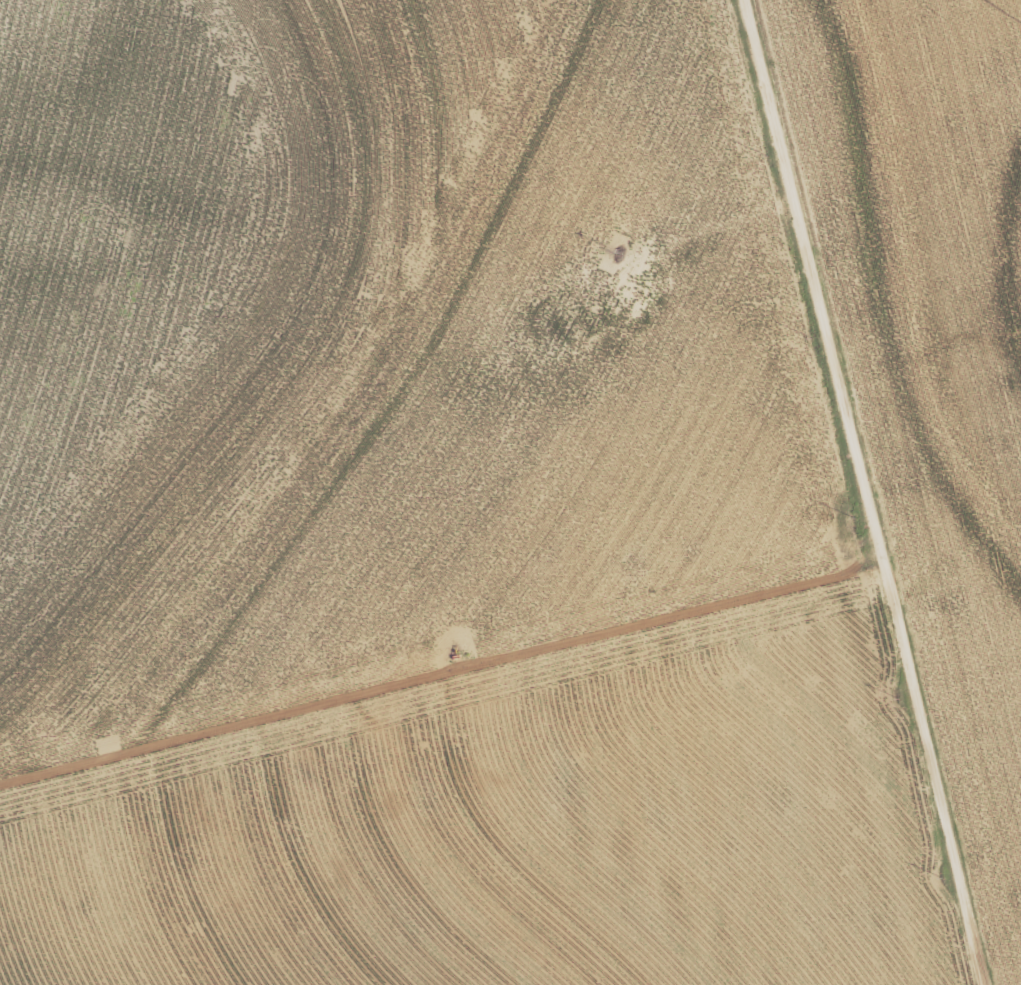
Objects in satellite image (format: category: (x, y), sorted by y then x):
road: (867, 492)

